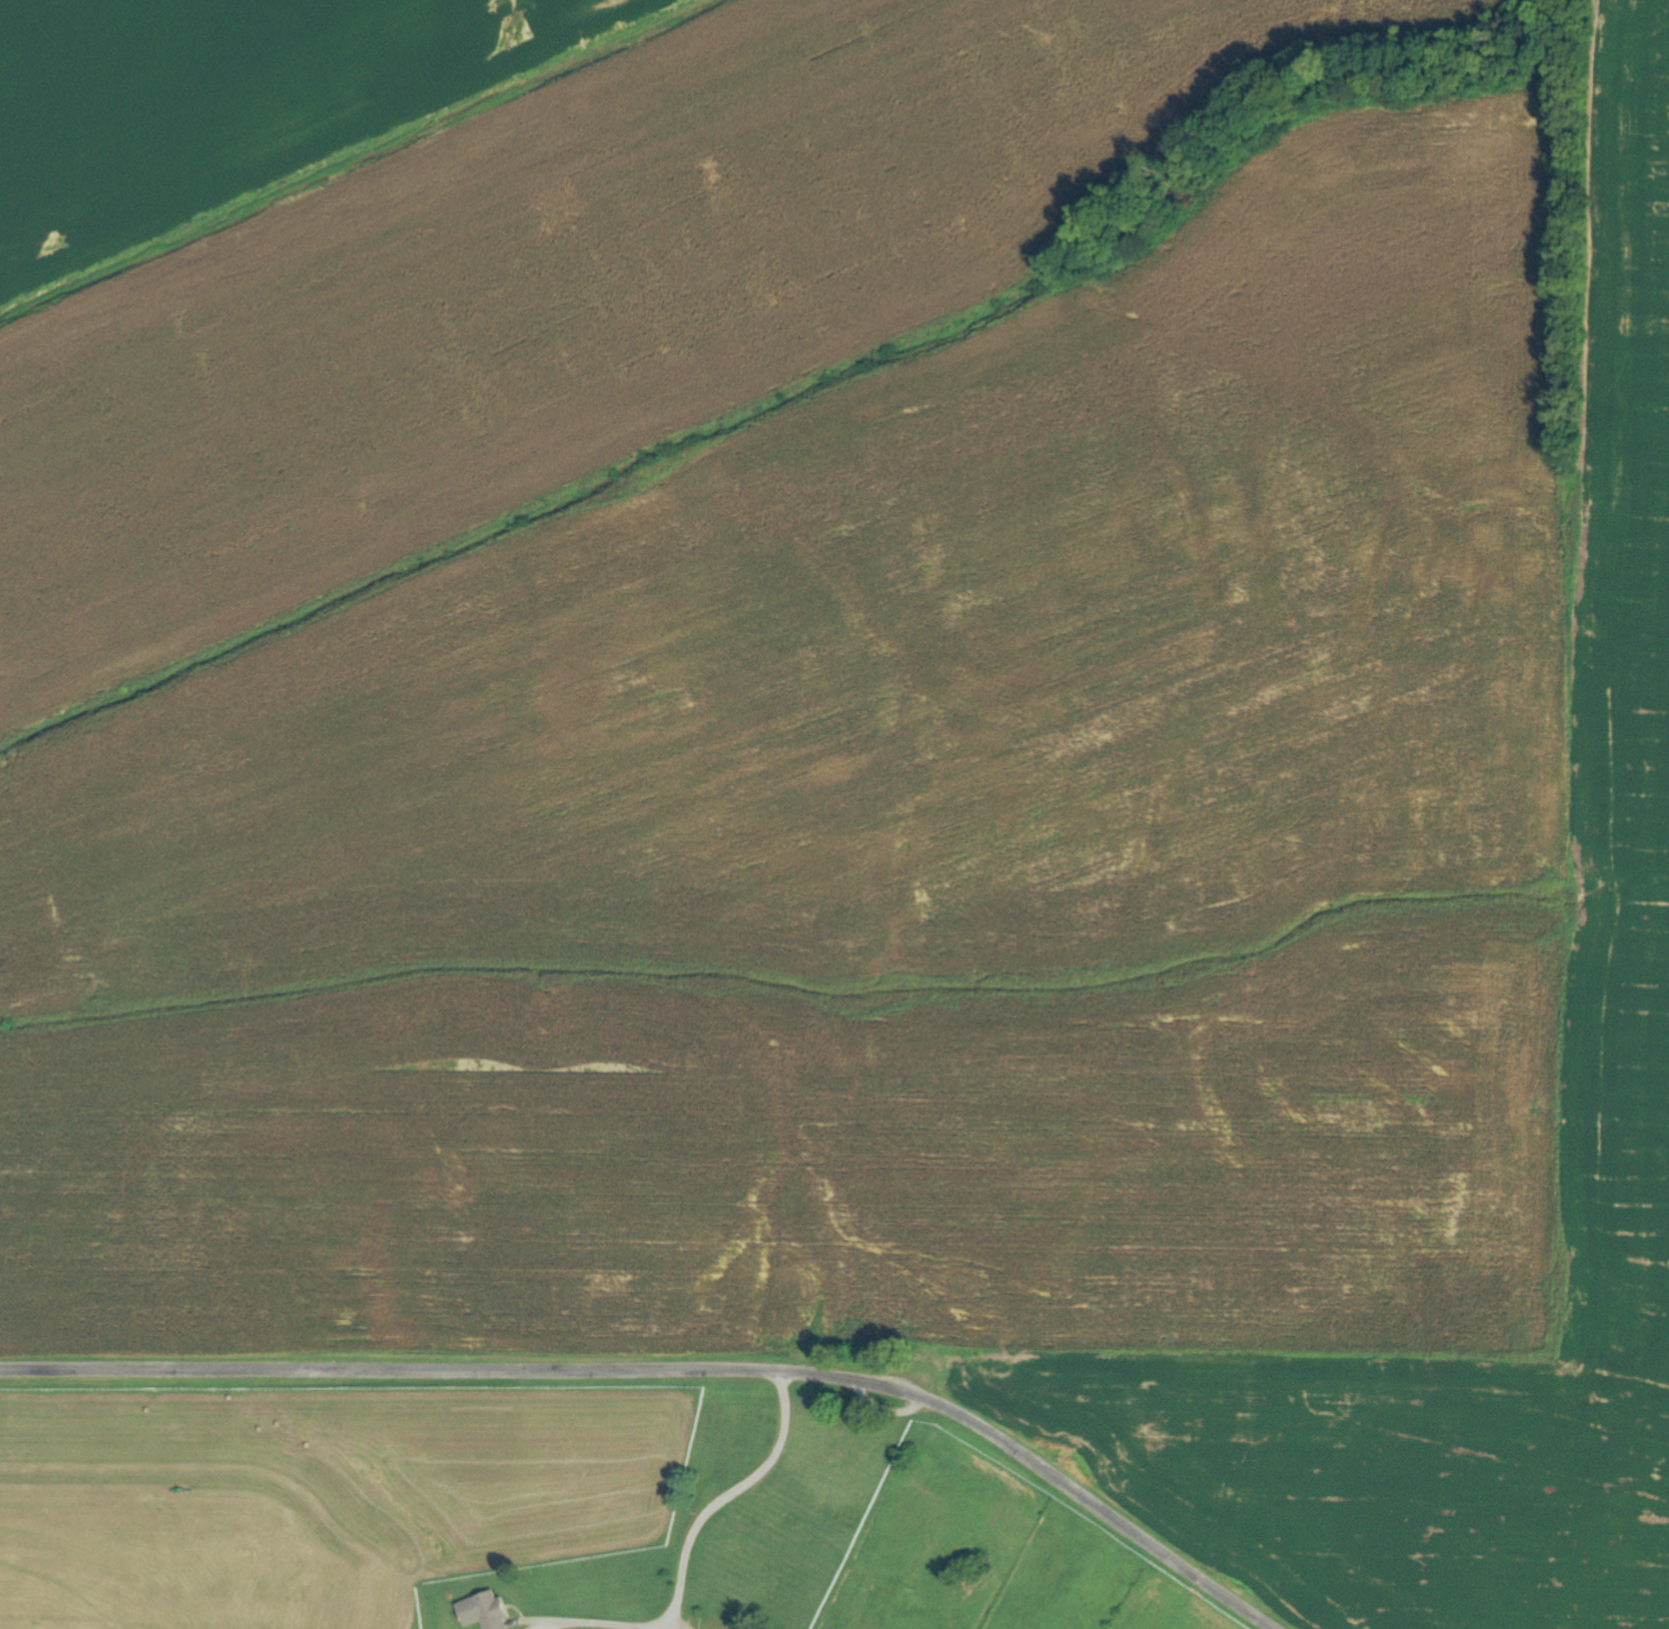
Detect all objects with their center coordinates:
crop: (569, 291)
road: (674, 1368)
building: (481, 1612)

